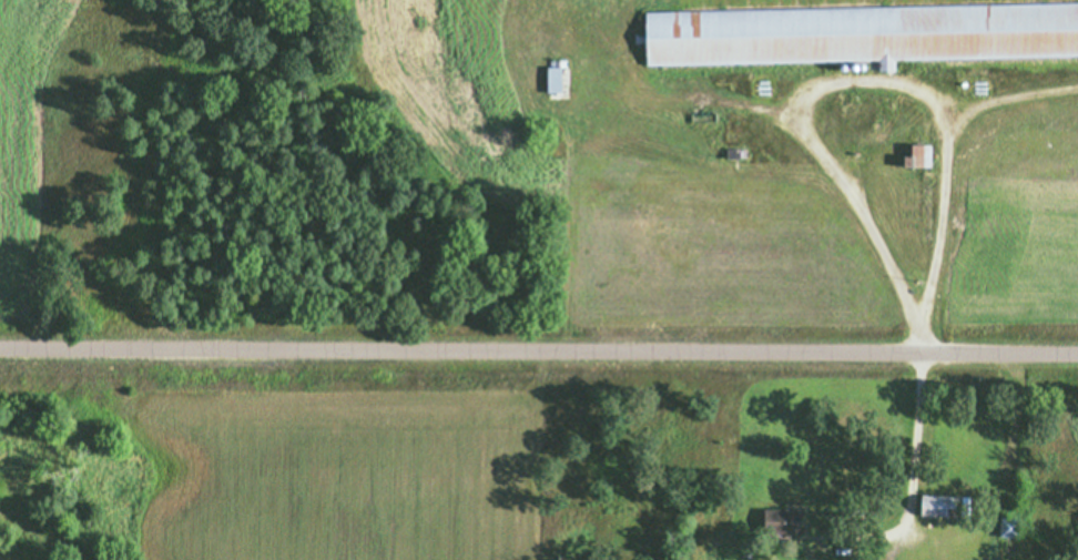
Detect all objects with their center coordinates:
building: (860, 32)
building: (555, 79)
road: (838, 82)
building: (917, 155)
road: (538, 348)
building: (940, 506)
building: (779, 522)

